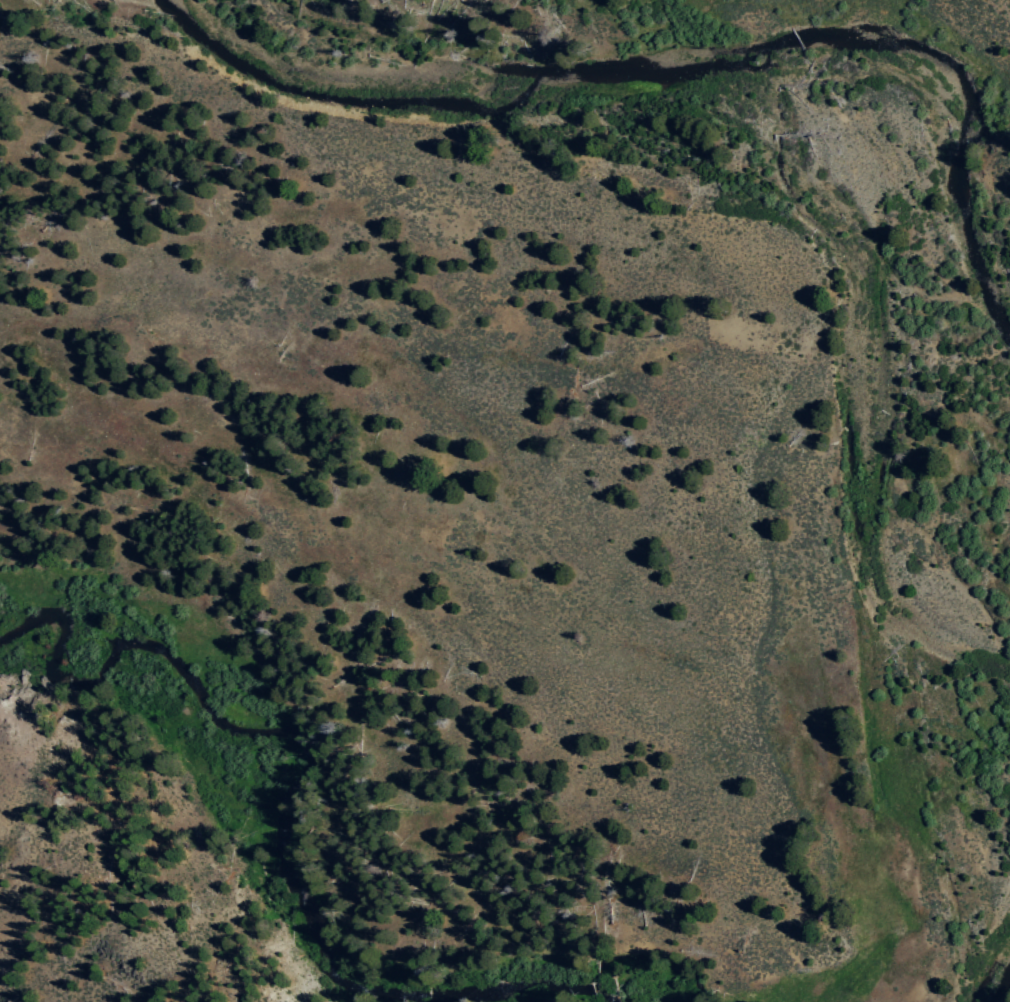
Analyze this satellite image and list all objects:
river: (692, 64)
river: (986, 958)

